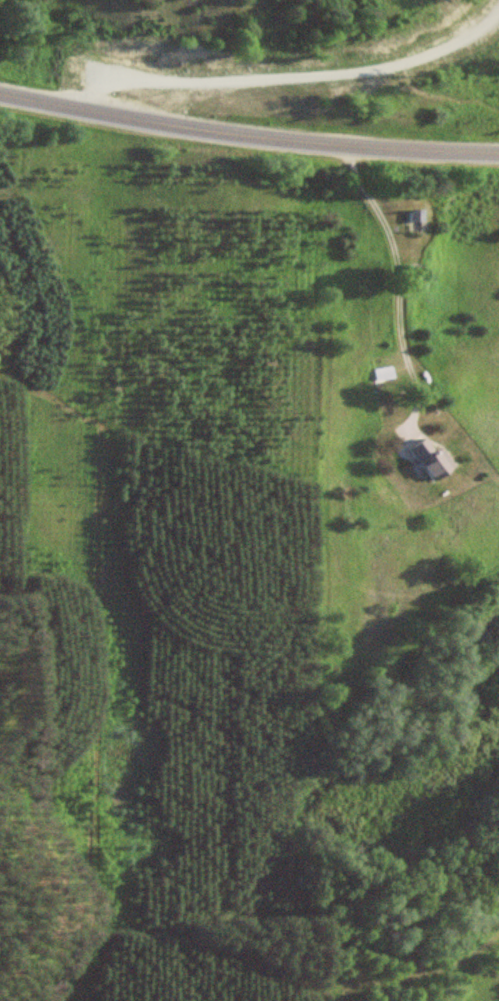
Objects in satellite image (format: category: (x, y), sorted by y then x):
road: (248, 133)
building: (409, 220)
building: (383, 373)
building: (425, 457)

